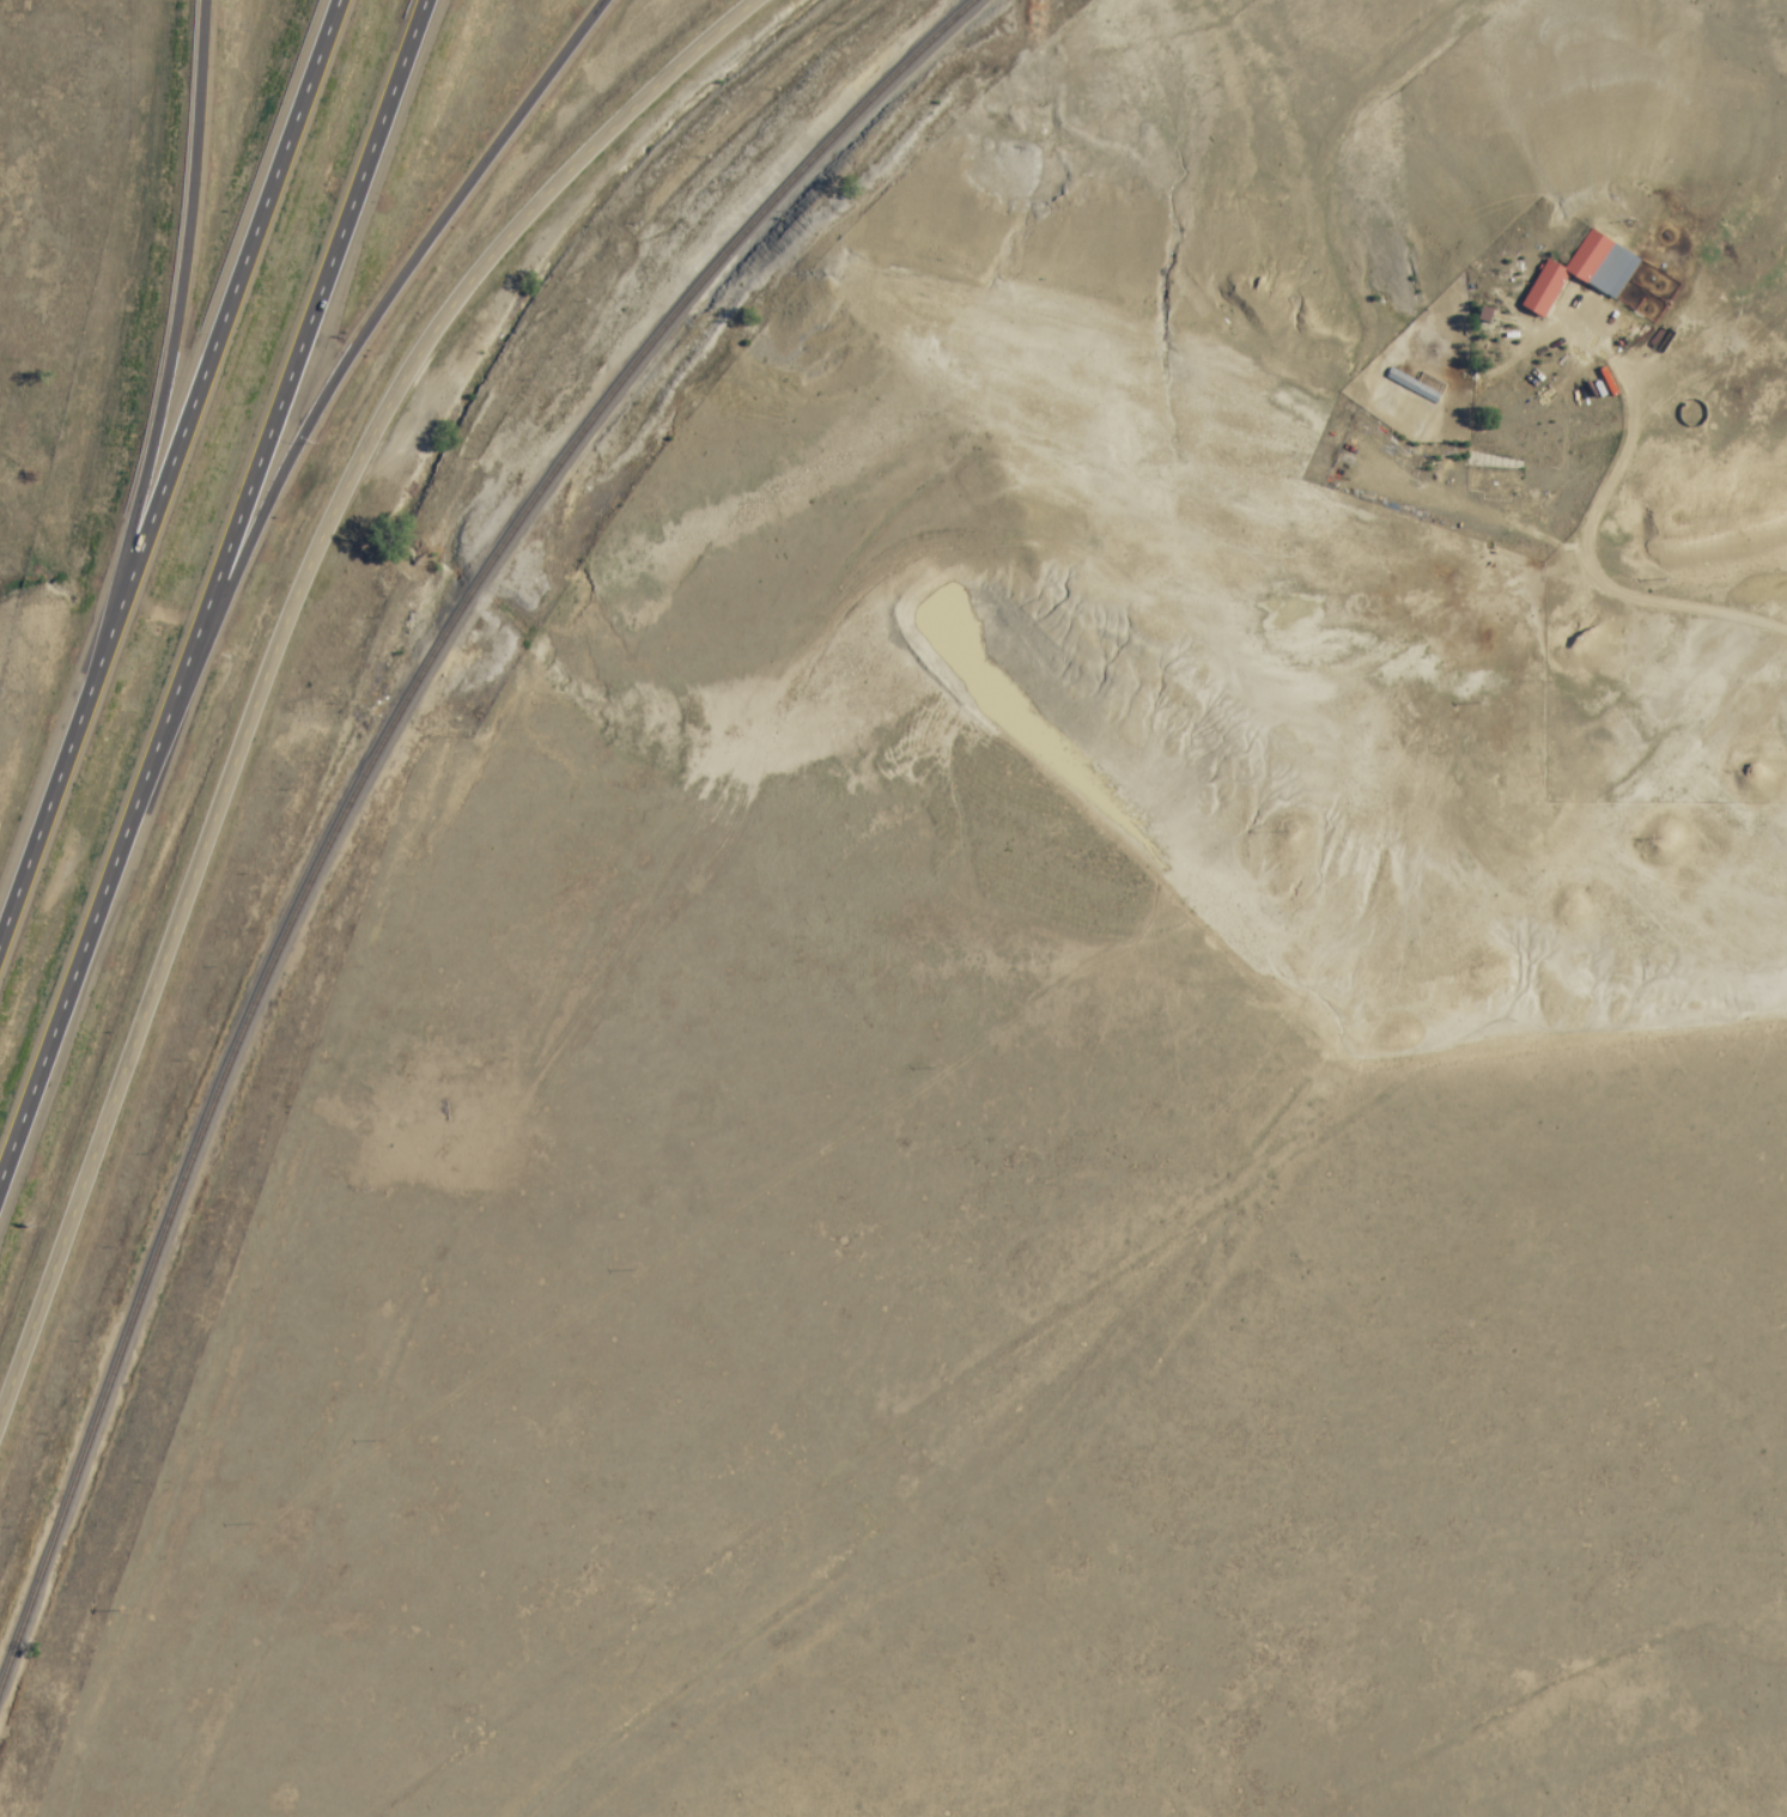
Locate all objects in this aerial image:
building: (1592, 276)
road: (370, 322)
road: (172, 335)
road: (170, 463)
road: (212, 589)
road: (275, 639)
railway: (367, 767)

